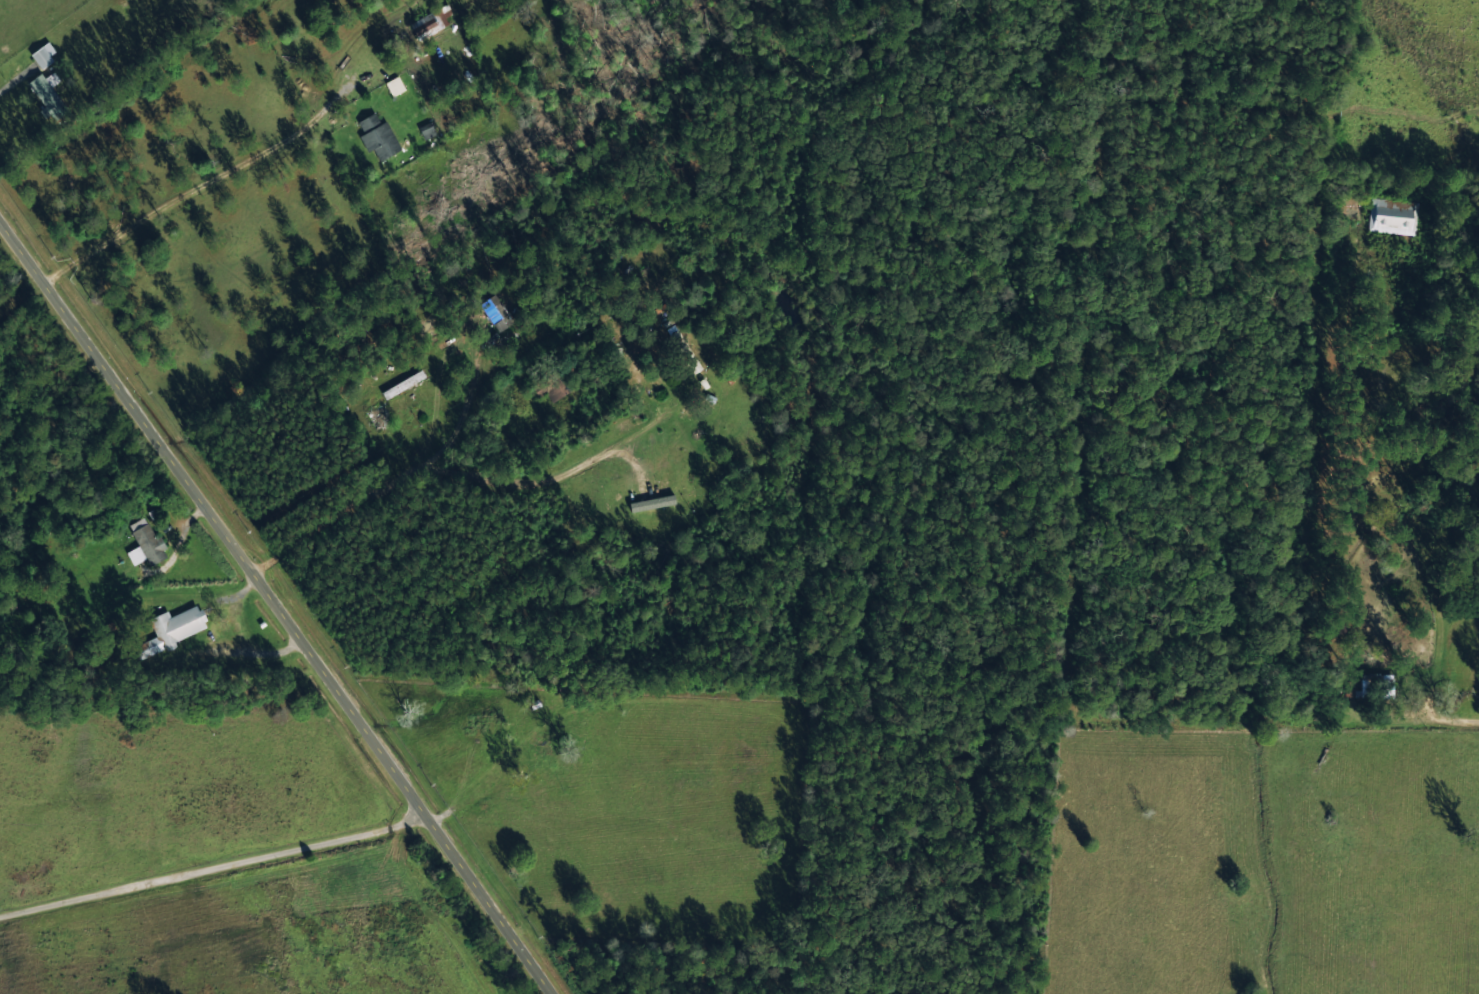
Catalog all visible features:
building: (428, 23)
building: (43, 53)
building: (394, 85)
building: (48, 94)
building: (427, 129)
building: (378, 136)
building: (1393, 215)
building: (498, 315)
building: (555, 388)
building: (145, 543)
road: (1424, 557)
road: (278, 608)
building: (180, 624)
road: (1397, 737)
road: (215, 868)

